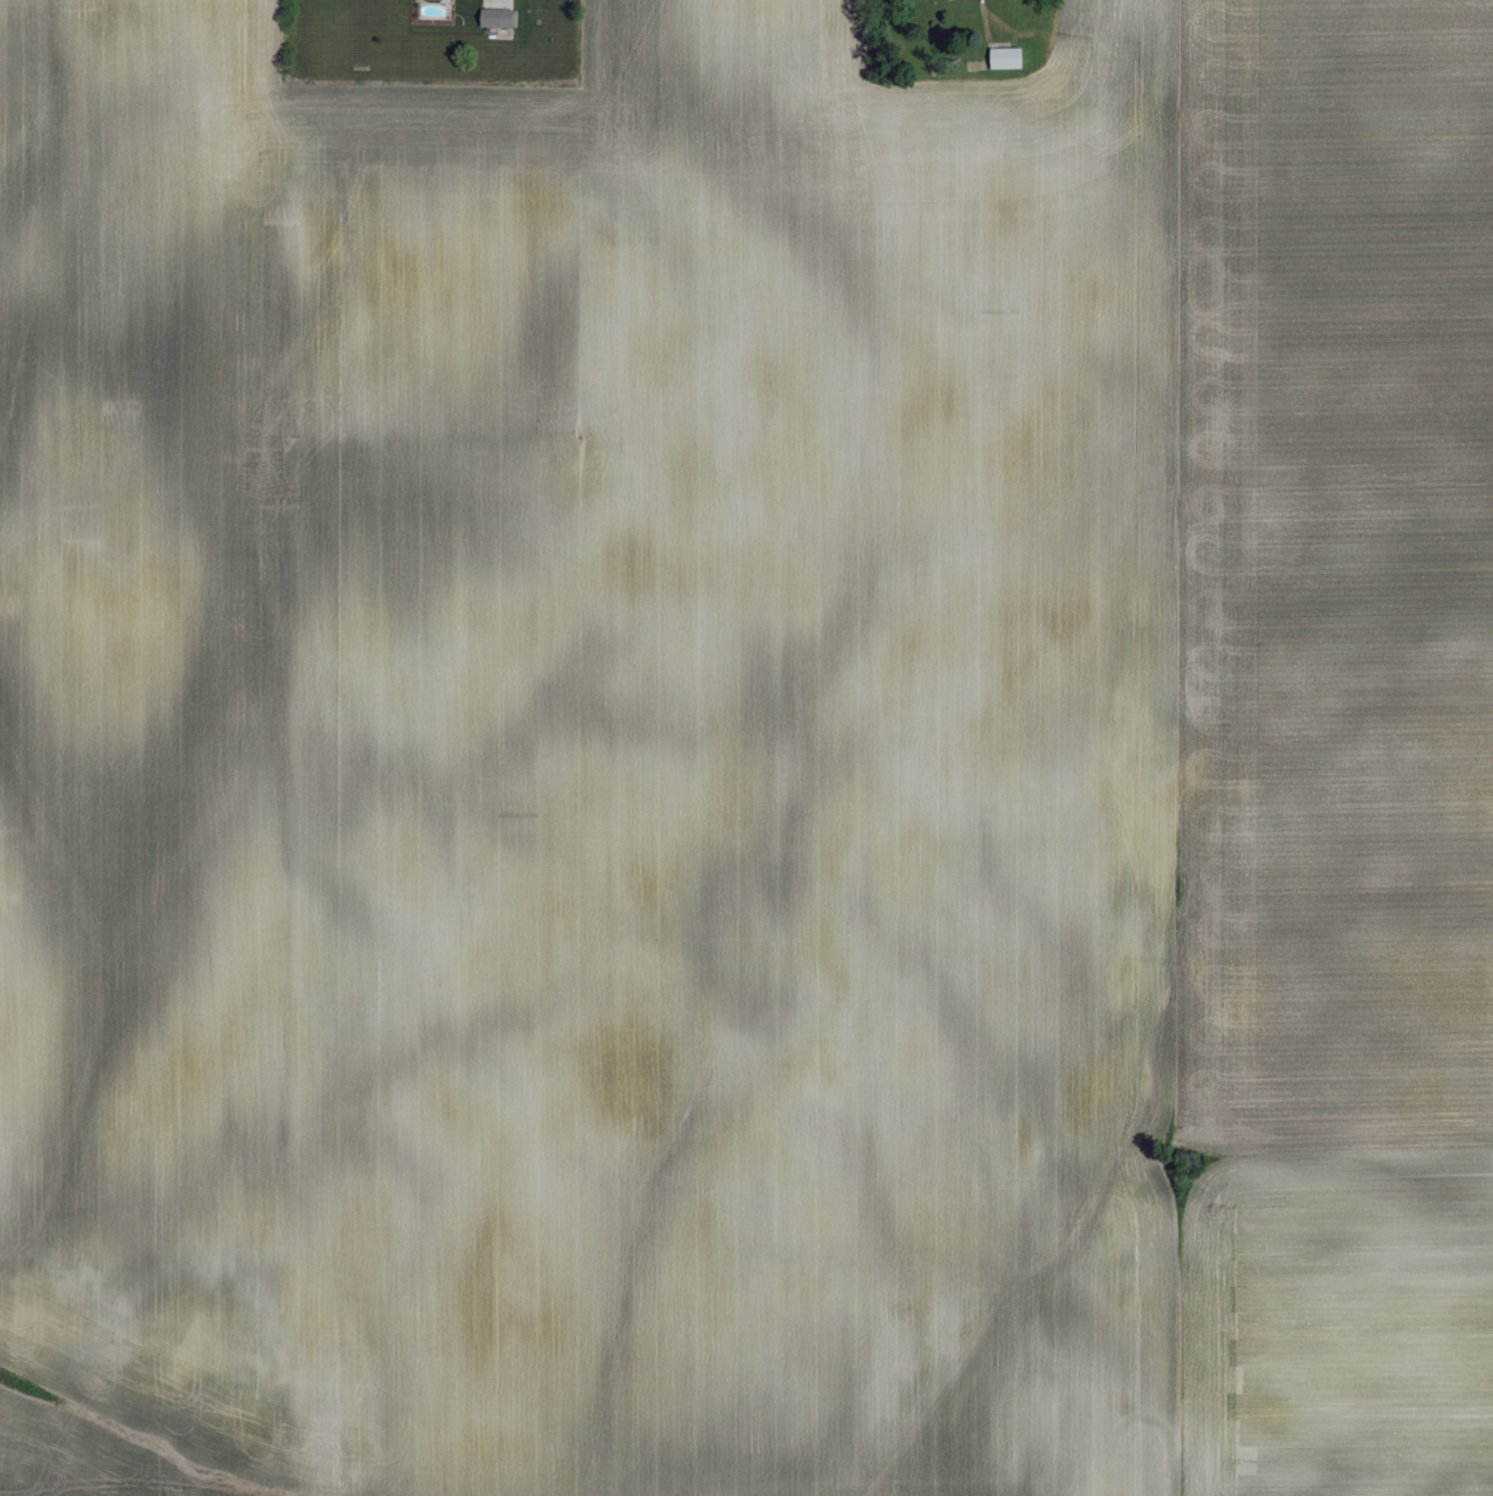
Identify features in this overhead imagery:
building: (499, 17)
building: (1008, 57)

